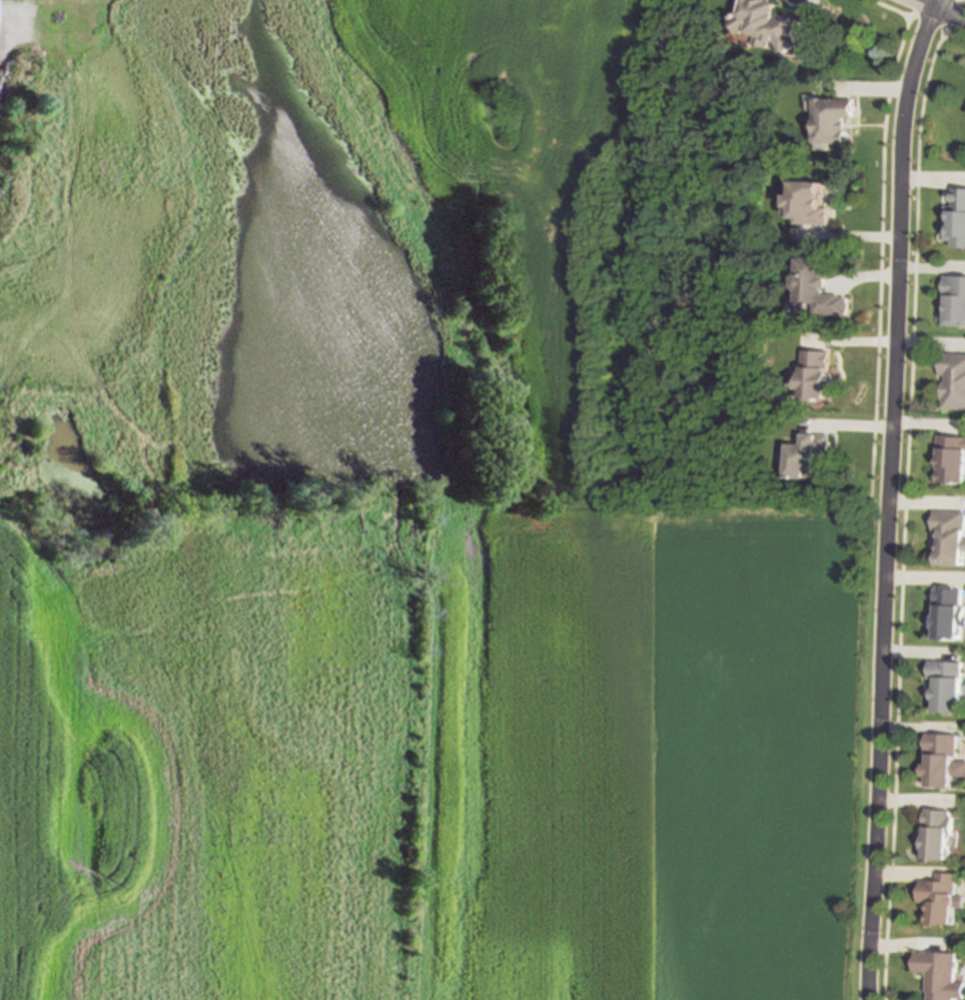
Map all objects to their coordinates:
road: (938, 10)
road: (5, 18)
building: (765, 25)
building: (832, 113)
building: (806, 198)
building: (955, 217)
crop: (538, 230)
building: (817, 284)
building: (953, 299)
building: (817, 373)
building: (952, 379)
building: (810, 454)
building: (950, 456)
road: (886, 497)
building: (948, 534)
crop: (160, 596)
building: (948, 609)
building: (945, 683)
building: (942, 760)
building: (935, 833)
building: (941, 897)
building: (941, 975)

